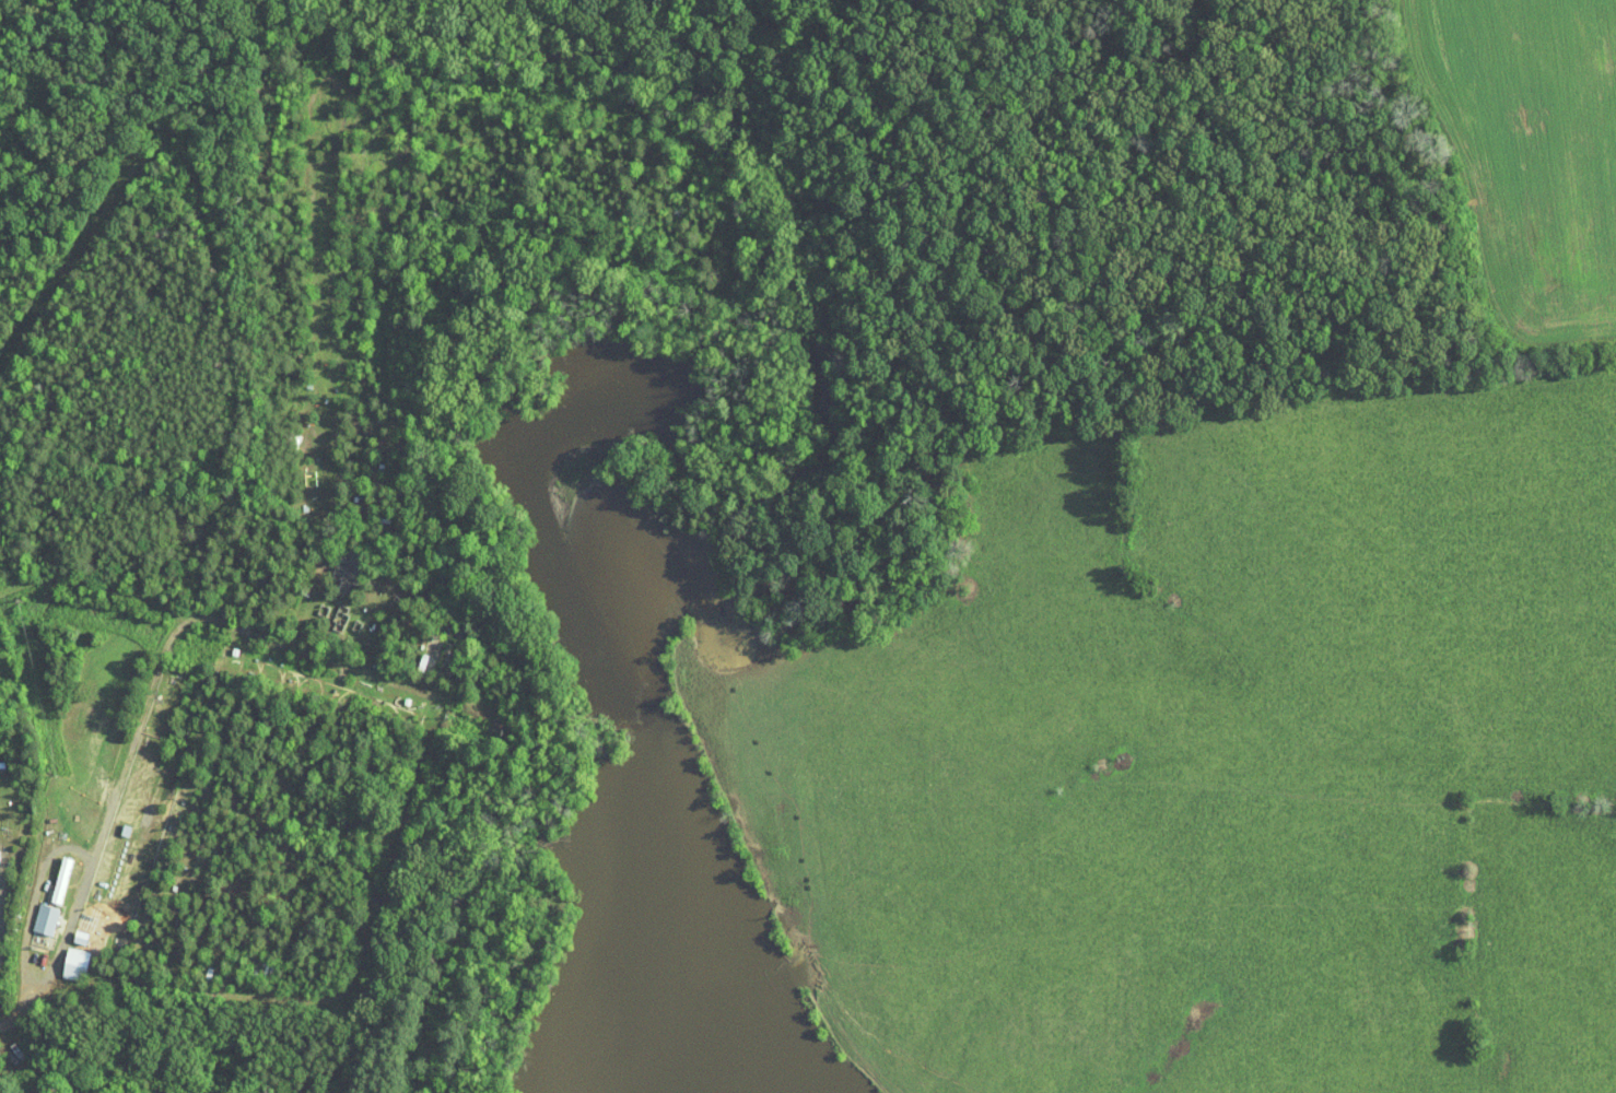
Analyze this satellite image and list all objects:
road: (73, 847)
building: (48, 873)
road: (2, 908)
building: (32, 913)
building: (67, 930)
building: (61, 957)
road: (13, 1015)

